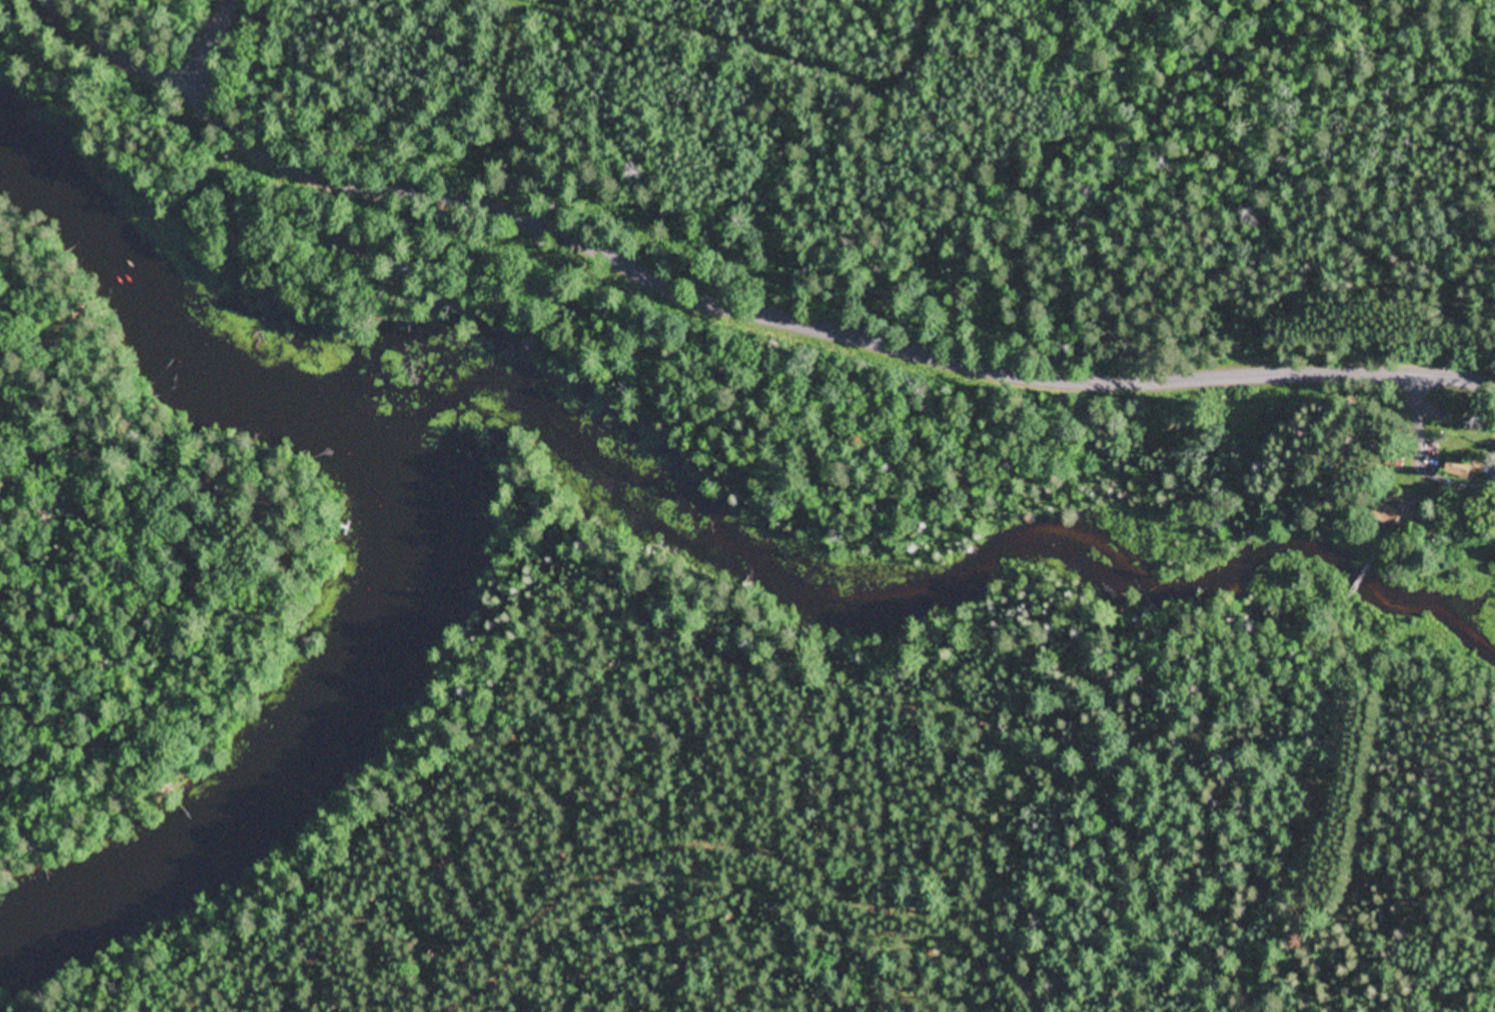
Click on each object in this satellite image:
road: (216, 46)
road: (126, 47)
river: (192, 299)
road: (822, 326)
building: (1390, 456)
building: (1466, 467)
building: (214, 484)
building: (1397, 512)
building: (180, 541)
river: (284, 732)

